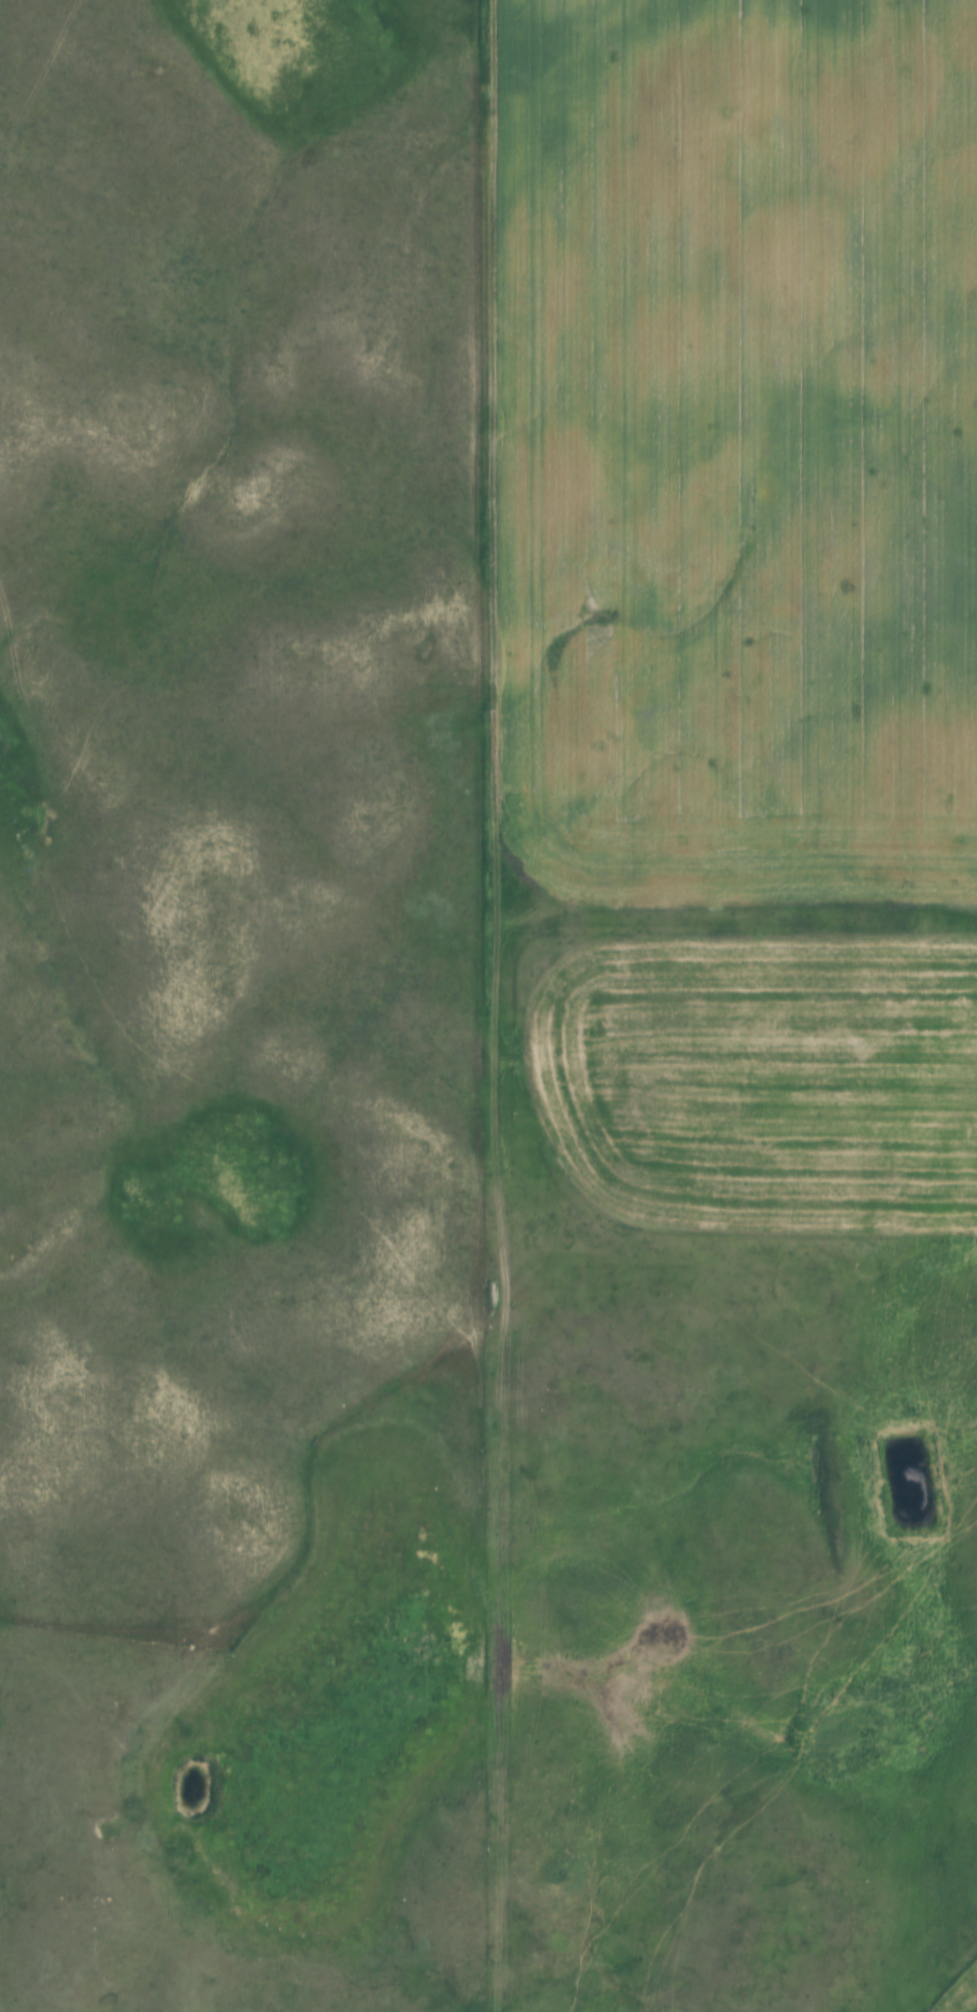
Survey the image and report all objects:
road: (498, 1006)

